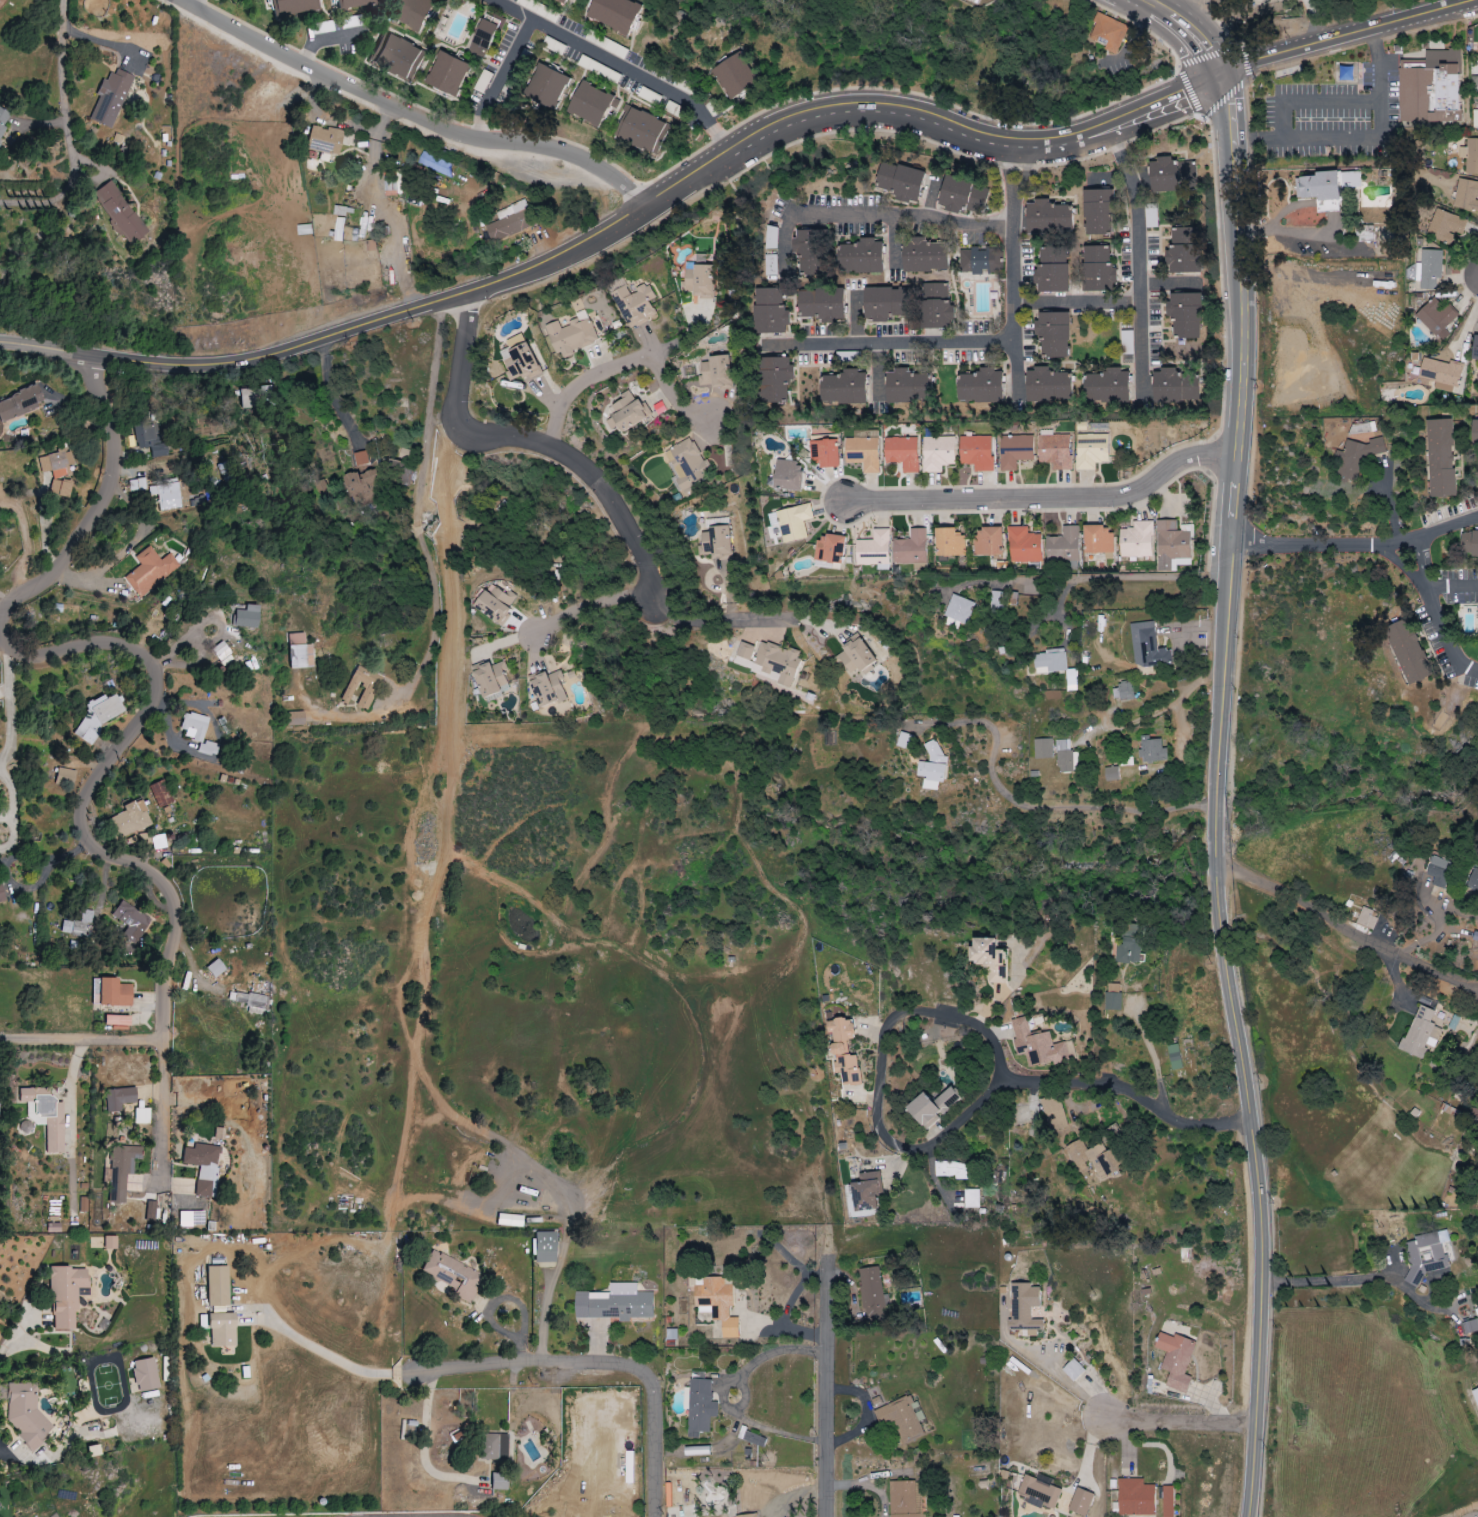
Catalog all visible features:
building: (40, 0)
building: (564, 0)
road: (185, 1)
building: (353, 3)
building: (290, 6)
street lamp: (1394, 6)
road: (1188, 10)
building: (410, 12)
building: (614, 14)
street lamp: (240, 18)
road: (1312, 21)
street lamp: (1473, 23)
road: (1189, 30)
building: (1107, 32)
road: (1339, 35)
street lamp: (1288, 36)
building: (482, 37)
building: (396, 56)
building: (1477, 60)
road: (617, 68)
street lamp: (1173, 69)
building: (447, 73)
road: (64, 74)
building: (734, 75)
traffic signals: (1216, 77)
road: (498, 79)
street lamp: (1255, 79)
building: (546, 86)
building: (1429, 87)
building: (111, 98)
road: (1313, 100)
road: (1167, 101)
building: (591, 103)
street lamp: (964, 107)
street lamp: (439, 113)
road: (413, 116)
building: (3, 122)
street lamp: (735, 122)
road: (926, 123)
road: (1378, 129)
building: (641, 130)
street lamp: (1209, 131)
street lamp: (868, 132)
building: (324, 139)
road: (1255, 140)
building: (1470, 156)
street lamp: (1072, 164)
building: (436, 165)
building: (1170, 175)
road: (690, 176)
street lamp: (638, 178)
building: (900, 181)
building: (1320, 190)
building: (1466, 195)
building: (963, 196)
road: (56, 200)
building: (119, 212)
building: (1097, 212)
building: (1048, 217)
road: (900, 219)
building: (509, 222)
building: (1445, 226)
building: (338, 229)
road: (1333, 230)
building: (771, 251)
building: (809, 252)
building: (1182, 252)
building: (924, 255)
building: (860, 257)
building: (978, 261)
road: (1139, 261)
road: (1236, 265)
building: (1428, 269)
building: (1052, 270)
road: (1013, 273)
building: (697, 280)
street lamp: (491, 303)
building: (884, 303)
building: (634, 304)
building: (821, 304)
road: (1077, 305)
building: (936, 306)
building: (770, 312)
building: (1184, 314)
building: (1435, 316)
road: (333, 334)
building: (1053, 334)
building: (572, 335)
street lamp: (1223, 335)
road: (893, 345)
building: (1475, 348)
building: (518, 359)
road: (624, 366)
building: (714, 372)
building: (1440, 374)
building: (774, 379)
building: (1047, 385)
building: (906, 386)
building: (980, 386)
building: (1107, 386)
building: (1174, 386)
building: (843, 388)
building: (255, 396)
street lamp: (471, 401)
building: (19, 402)
building: (625, 412)
road: (426, 415)
building: (1474, 432)
building: (151, 438)
street lamp: (1204, 438)
road: (529, 441)
building: (1014, 451)
building: (1054, 451)
building: (1091, 451)
building: (976, 452)
building: (824, 453)
building: (862, 453)
building: (902, 453)
building: (937, 453)
building: (1356, 457)
building: (360, 458)
building: (1440, 458)
building: (54, 460)
building: (687, 463)
building: (58, 473)
building: (787, 475)
building: (372, 482)
street lamp: (998, 483)
street lamp: (1212, 486)
building: (60, 488)
building: (160, 492)
road: (1046, 501)
street lamp: (1115, 511)
street lamp: (873, 515)
building: (792, 523)
street lamp: (646, 534)
building: (715, 540)
building: (1097, 540)
building: (1136, 540)
building: (987, 541)
building: (948, 543)
road: (1356, 544)
building: (1469, 544)
building: (1023, 546)
building: (1063, 546)
building: (1171, 546)
building: (909, 548)
building: (829, 549)
building: (873, 550)
road: (1418, 563)
building: (151, 570)
road: (1087, 578)
road: (1452, 588)
road: (8, 598)
building: (494, 604)
road: (590, 605)
road: (7, 609)
building: (959, 609)
building: (1477, 612)
building: (246, 617)
road: (740, 620)
road: (1445, 636)
building: (1146, 646)
building: (300, 651)
building: (1407, 651)
building: (223, 653)
building: (855, 657)
road: (1223, 659)
building: (768, 661)
building: (1050, 661)
building: (491, 679)
building: (1071, 679)
building: (547, 688)
building: (1123, 692)
building: (368, 693)
road: (159, 700)
building: (99, 716)
road: (1179, 717)
building: (296, 718)
building: (193, 726)
road: (11, 731)
building: (905, 741)
building: (210, 748)
building: (1042, 748)
building: (1151, 750)
building: (1064, 756)
building: (932, 768)
building: (1110, 774)
building: (66, 776)
building: (160, 792)
road: (1036, 807)
building: (130, 819)
building: (159, 842)
building: (1438, 872)
building: (1473, 882)
building: (1, 894)
building: (1367, 919)
building: (130, 921)
building: (78, 924)
road: (1345, 926)
building: (1475, 937)
building: (1127, 951)
building: (988, 959)
building: (215, 968)
road: (1477, 990)
building: (249, 1000)
building: (1112, 1001)
road: (894, 1015)
building: (116, 1021)
building: (1420, 1033)
road: (81, 1039)
building: (1037, 1046)
road: (1149, 1051)
building: (843, 1052)
building: (1174, 1057)
road: (71, 1090)
road: (1142, 1095)
building: (119, 1098)
building: (931, 1106)
building: (1053, 1113)
building: (46, 1114)
building: (142, 1115)
building: (1094, 1158)
building: (203, 1165)
building: (122, 1169)
building: (951, 1169)
road: (1258, 1189)
building: (866, 1190)
building: (971, 1198)
building: (192, 1218)
building: (510, 1219)
building: (110, 1241)
building: (545, 1246)
building: (1424, 1256)
building: (450, 1272)
road: (1324, 1280)
building: (217, 1285)
building: (871, 1288)
building: (65, 1294)
road: (792, 1297)
building: (615, 1303)
building: (717, 1306)
building: (1024, 1308)
building: (1469, 1328)
building: (222, 1329)
road: (774, 1330)
road: (321, 1350)
road: (19, 1356)
building: (1175, 1359)
road: (597, 1365)
building: (1072, 1370)
building: (146, 1374)
road: (1063, 1382)
road: (720, 1393)
building: (1475, 1395)
road: (822, 1398)
building: (699, 1406)
building: (26, 1413)
road: (1177, 1420)
building: (753, 1439)
road: (425, 1444)
building: (494, 1446)
building: (696, 1451)
building: (499, 1480)
building: (1039, 1492)
building: (1134, 1497)
building: (904, 1499)
building: (1167, 1501)
building: (1080, 1502)
building: (746, 1516)

